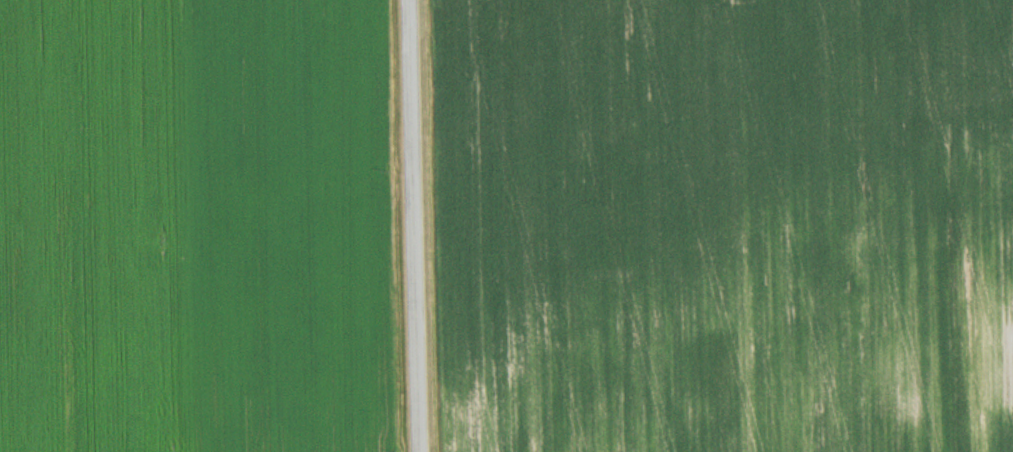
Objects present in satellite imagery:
road: (416, 226)

